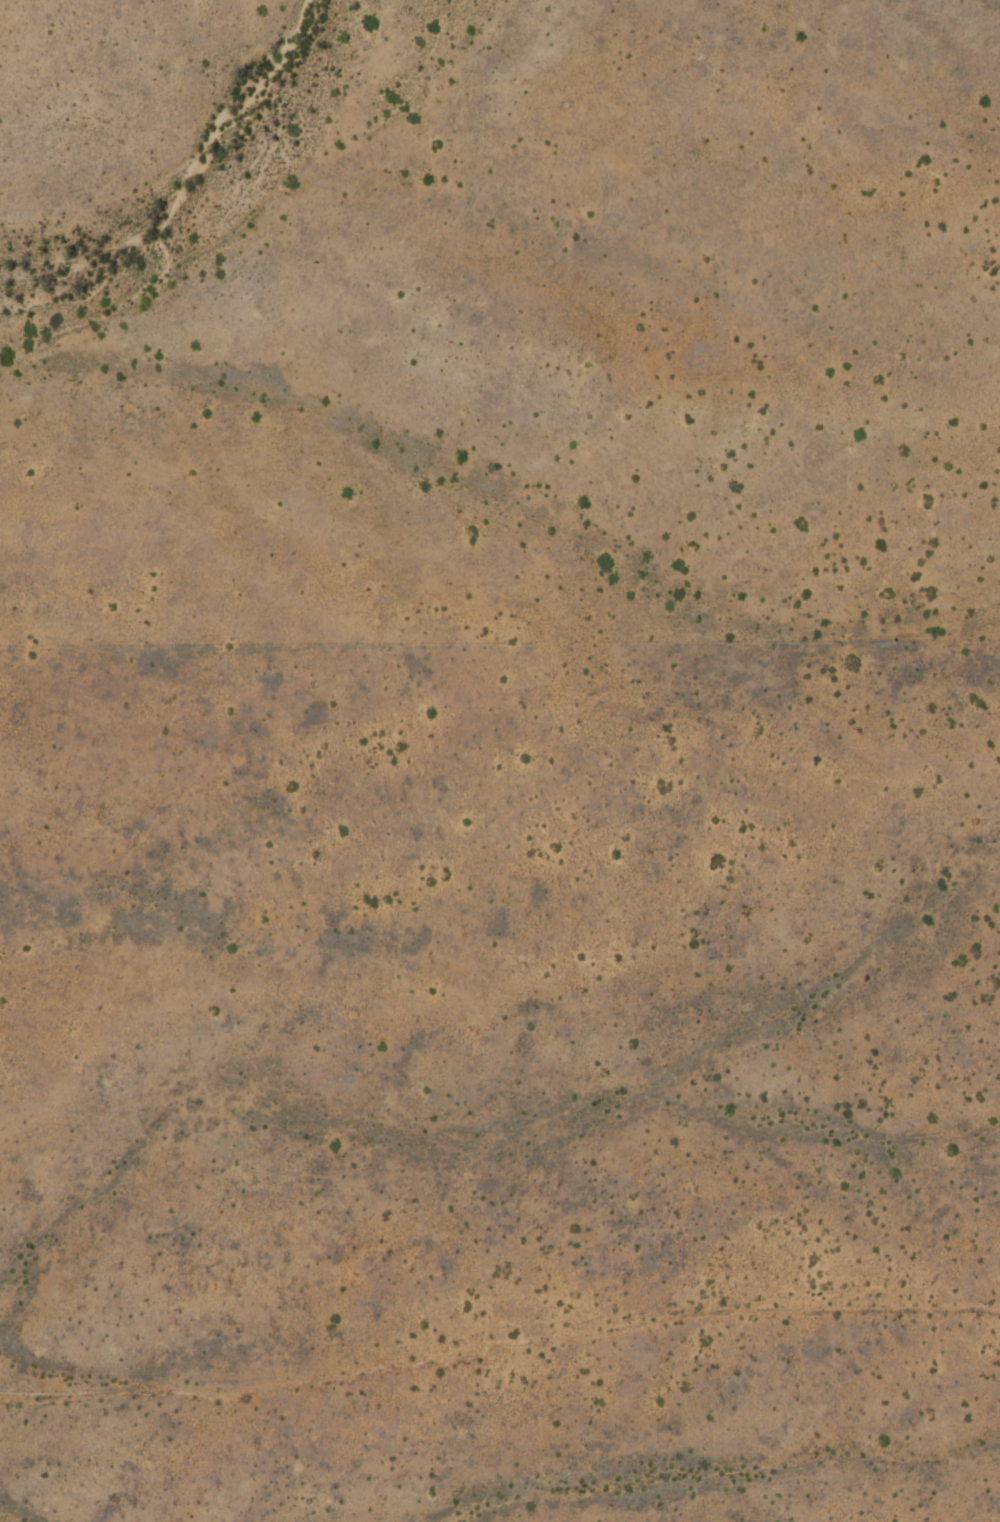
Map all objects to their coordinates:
road: (503, 1386)

